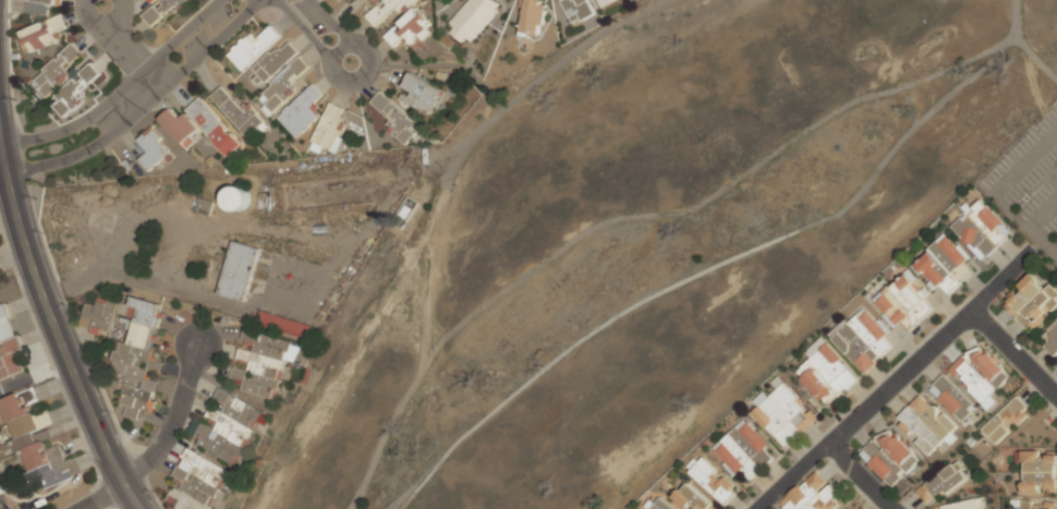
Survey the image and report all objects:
building: (46, 1)
building: (150, 1)
building: (374, 1)
building: (603, 2)
building: (163, 9)
building: (388, 9)
building: (576, 9)
building: (532, 17)
building: (472, 19)
building: (409, 29)
road: (318, 31)
building: (40, 35)
road: (121, 47)
building: (252, 47)
road: (177, 58)
road: (2, 70)
building: (56, 72)
building: (282, 87)
building: (74, 90)
building: (422, 93)
building: (301, 111)
building: (240, 113)
building: (394, 117)
road: (0, 123)
road: (0, 124)
building: (212, 125)
building: (181, 126)
building: (331, 126)
road: (60, 129)
building: (151, 148)
road: (69, 152)
parking lot: (1031, 183)
road: (995, 193)
building: (238, 197)
road: (1043, 214)
building: (943, 264)
building: (239, 270)
building: (903, 302)
building: (1032, 302)
building: (98, 316)
road: (53, 322)
building: (283, 325)
building: (1050, 338)
building: (862, 340)
building: (814, 347)
building: (9, 349)
road: (1013, 355)
building: (136, 359)
building: (262, 362)
building: (980, 373)
building: (825, 374)
road: (895, 381)
building: (952, 398)
building: (781, 413)
building: (970, 417)
building: (1006, 420)
road: (173, 423)
building: (227, 426)
building: (35, 438)
building: (909, 439)
building: (743, 449)
building: (1038, 472)
road: (856, 476)
building: (712, 480)
building: (197, 483)
building: (941, 483)
building: (812, 495)
road: (104, 497)
building: (693, 498)
building: (661, 505)
building: (963, 505)
building: (1034, 505)

